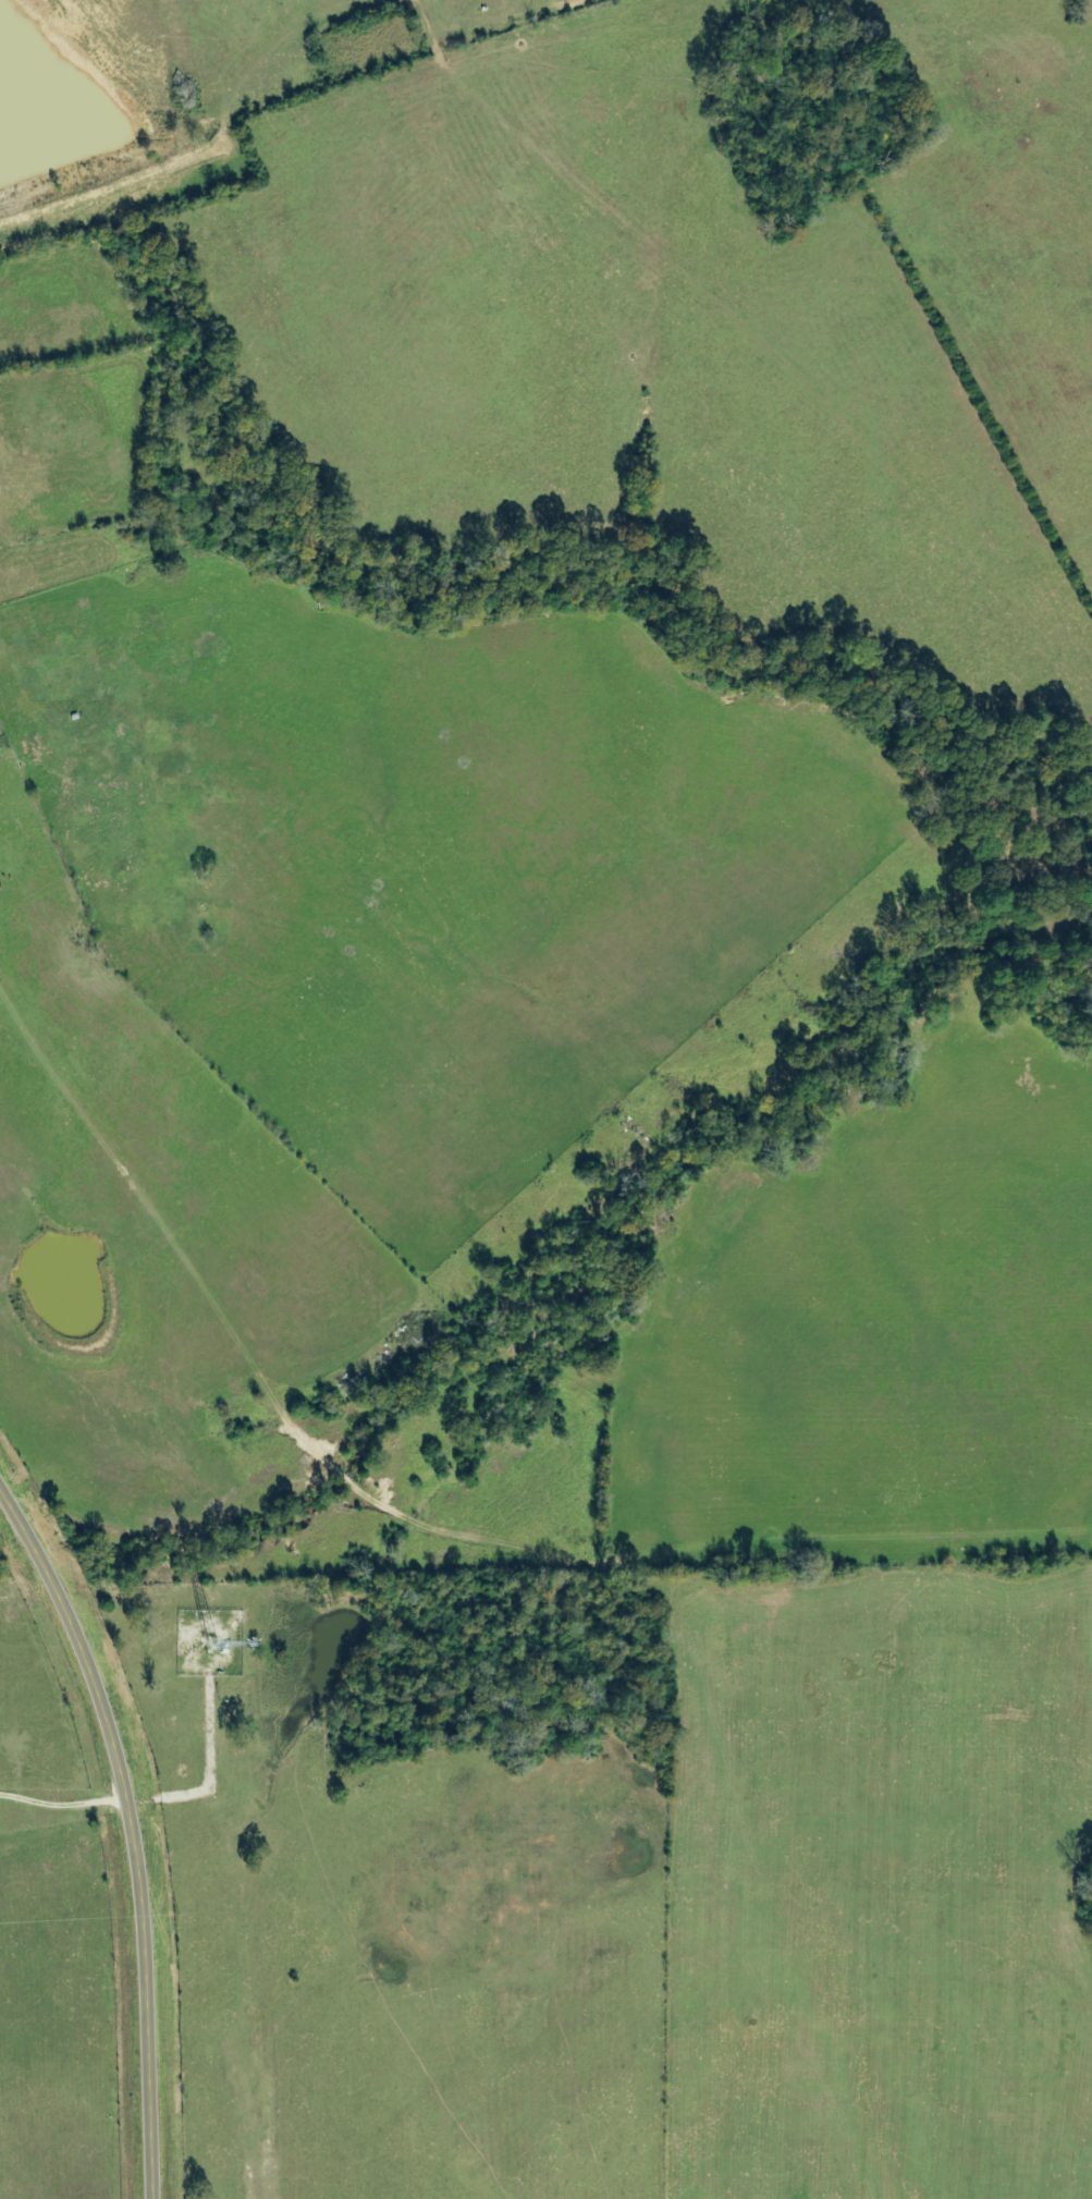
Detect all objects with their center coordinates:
road: (127, 1832)

